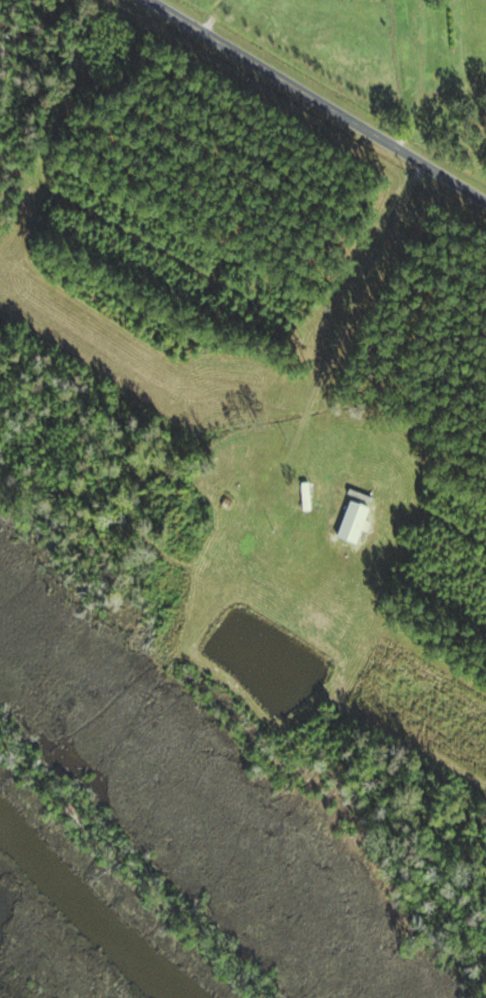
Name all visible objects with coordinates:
road: (318, 101)
road: (357, 310)
building: (305, 497)

